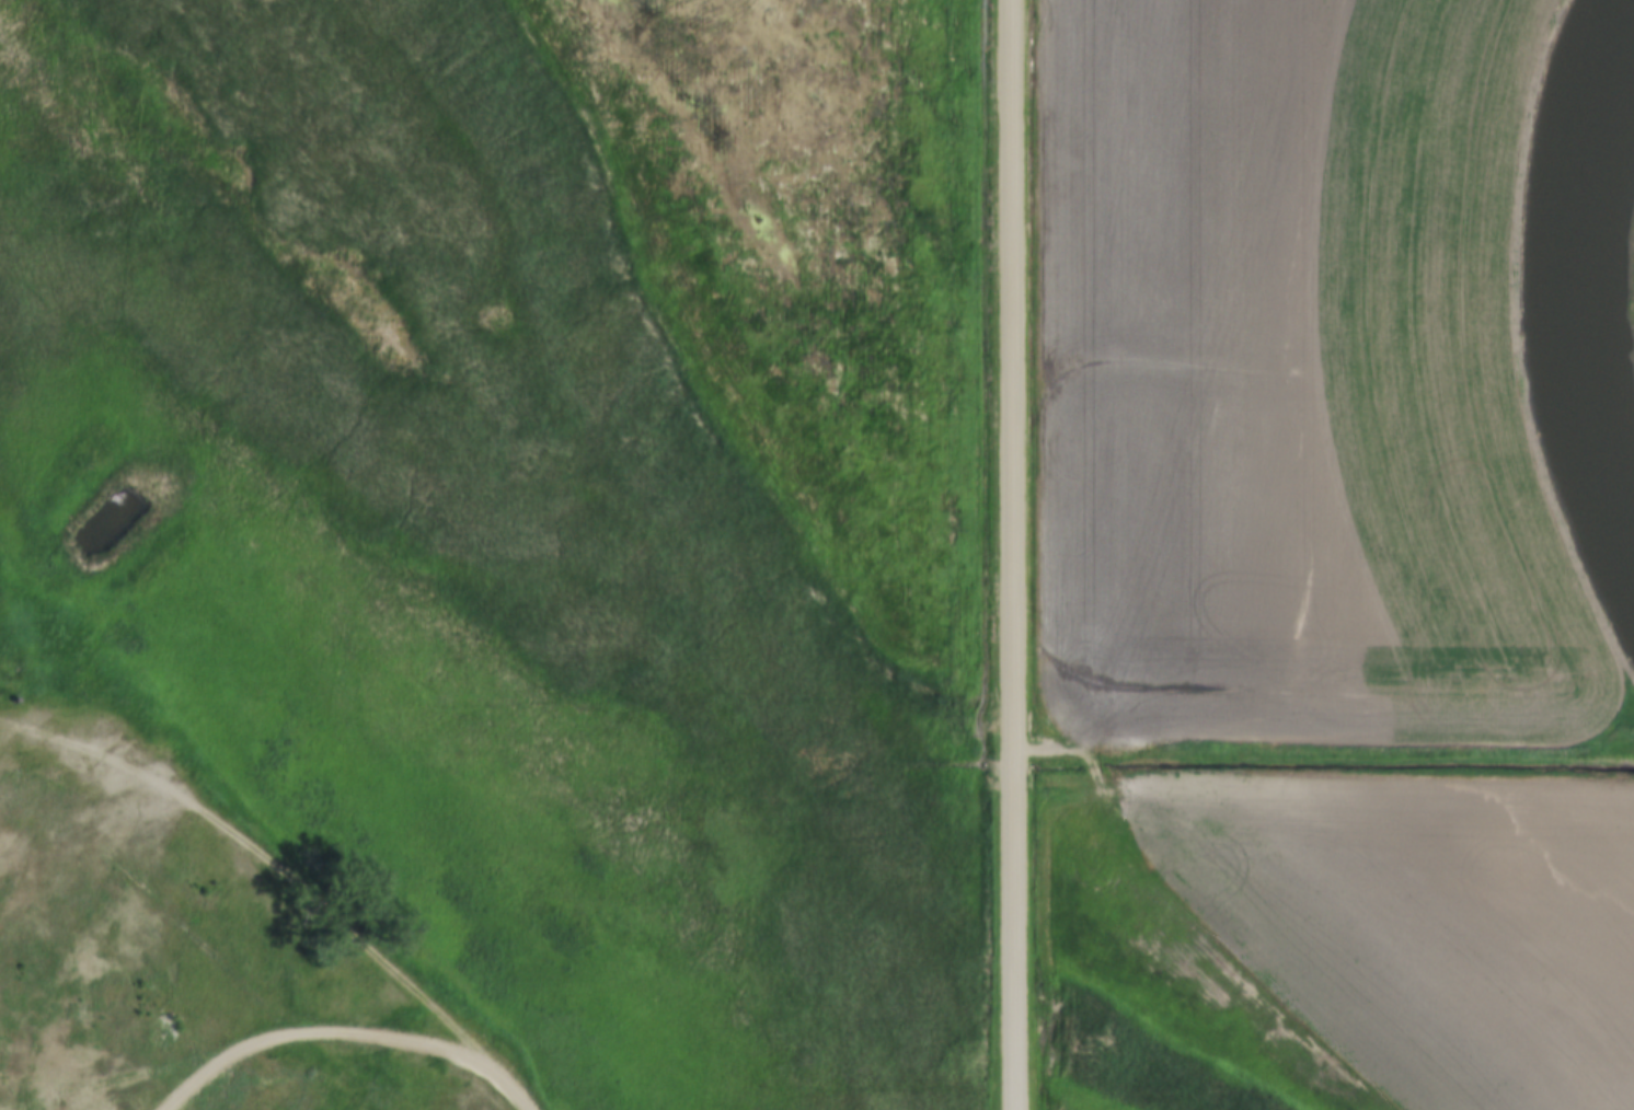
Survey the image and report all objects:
river: (1567, 292)
road: (1016, 555)
road: (281, 870)
quarry: (138, 926)
building: (1248, 948)
building: (1292, 991)

